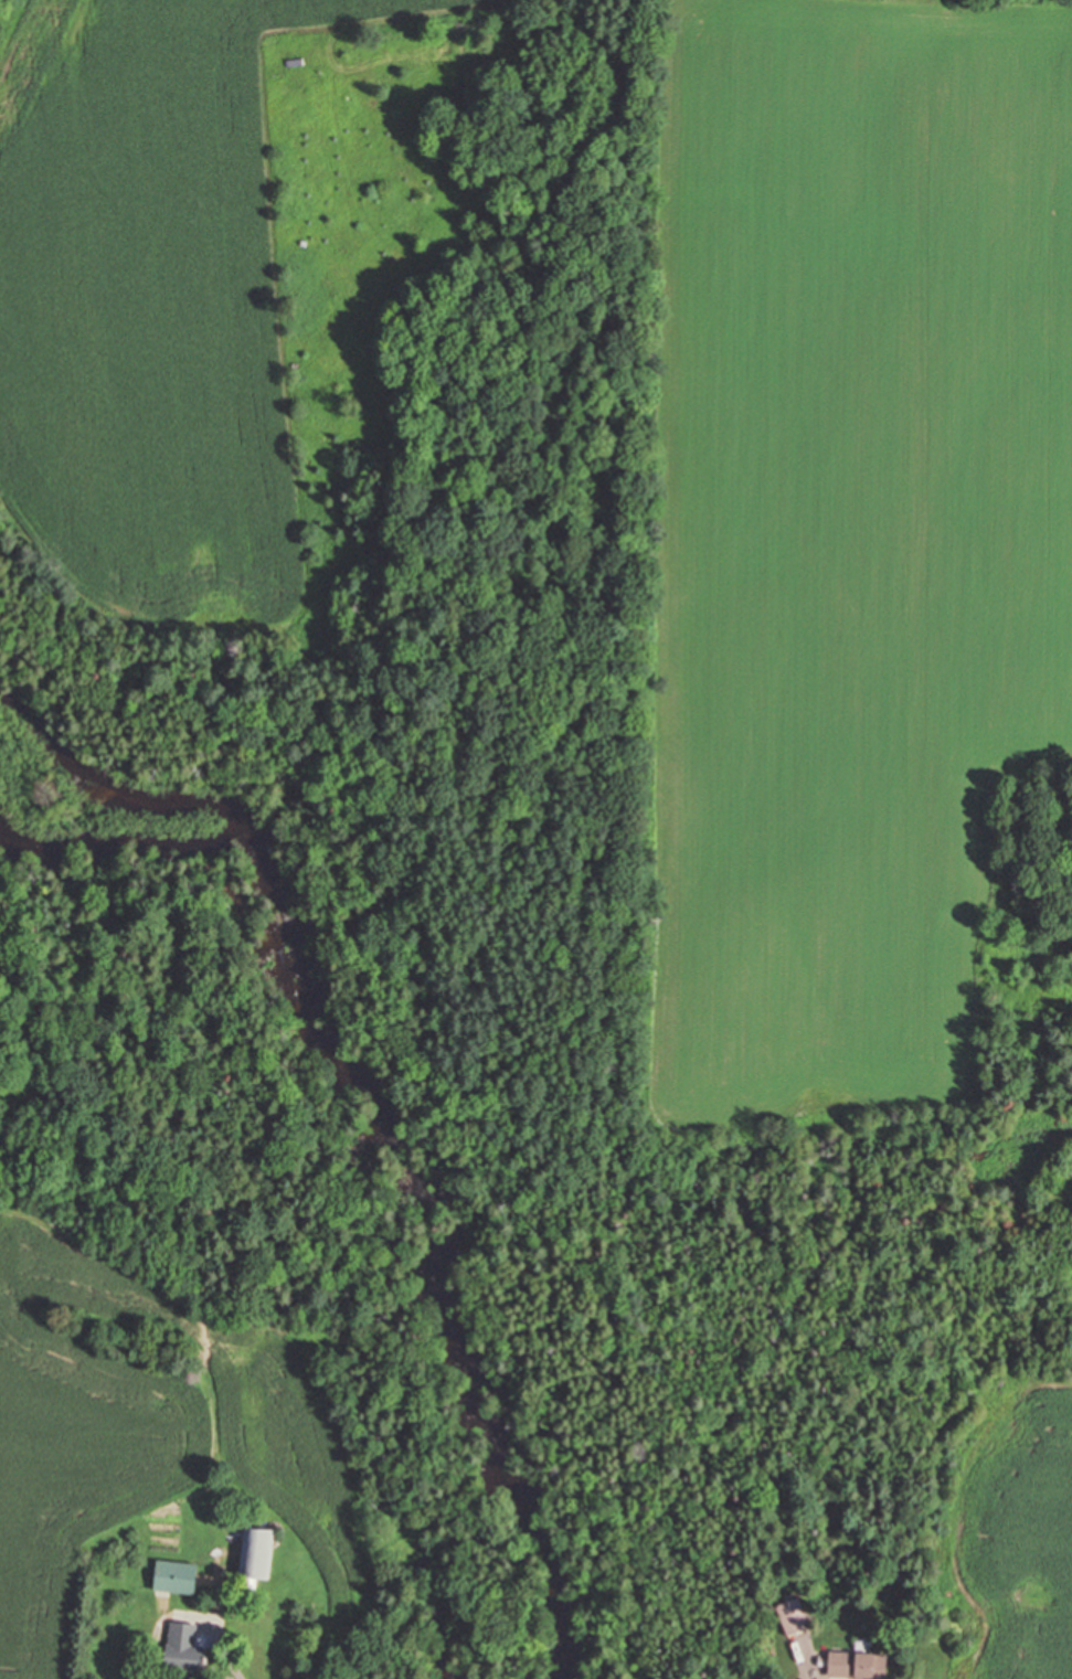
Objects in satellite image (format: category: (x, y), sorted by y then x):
river: (378, 1138)
building: (252, 1553)
building: (171, 1576)
building: (790, 1616)
building: (180, 1648)
building: (853, 1666)

